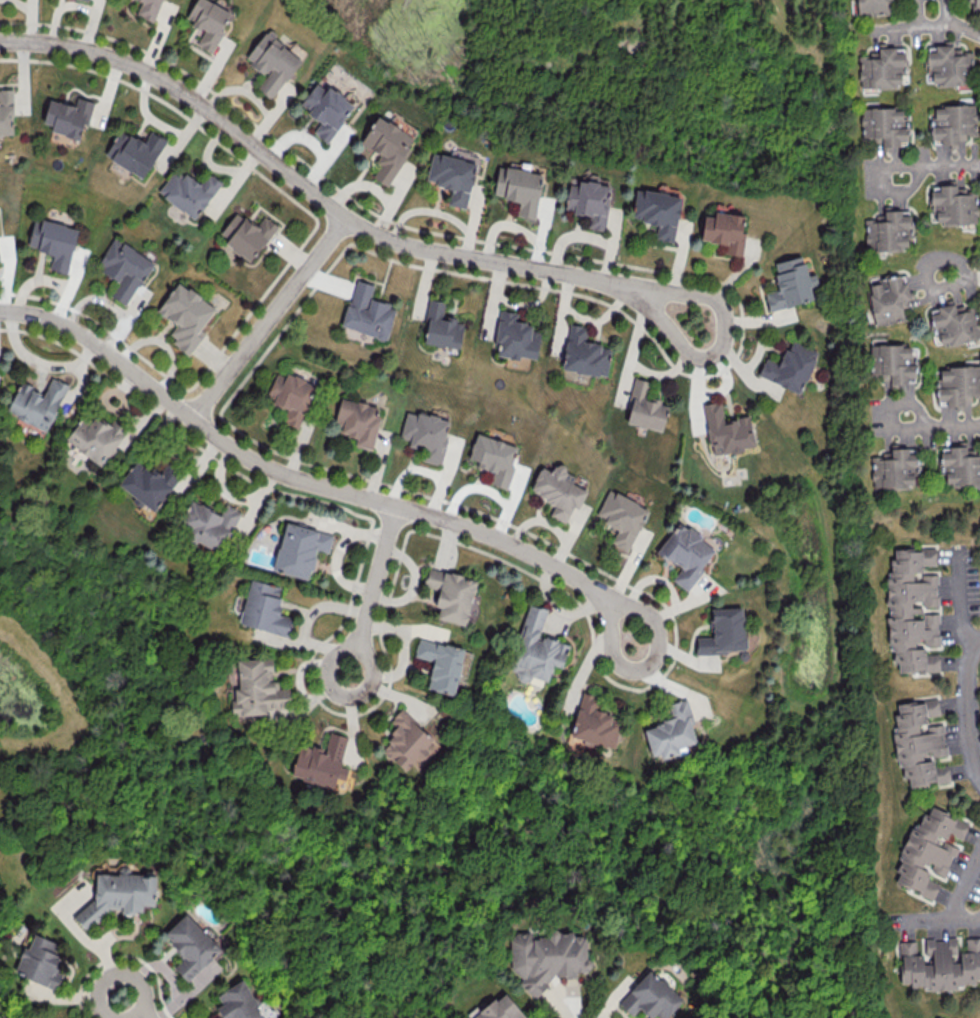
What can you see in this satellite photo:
building: (86, 0)
building: (977, 4)
building: (872, 7)
building: (148, 9)
road: (948, 12)
building: (208, 22)
road: (923, 24)
road: (964, 28)
building: (272, 63)
building: (948, 65)
building: (881, 67)
building: (326, 109)
building: (6, 112)
building: (68, 116)
building: (953, 122)
building: (884, 126)
building: (387, 147)
building: (135, 151)
road: (940, 168)
building: (452, 176)
building: (519, 188)
building: (188, 191)
building: (589, 201)
road: (331, 205)
building: (953, 205)
building: (657, 211)
building: (724, 231)
building: (887, 231)
building: (247, 235)
building: (53, 241)
building: (124, 268)
road: (960, 271)
road: (728, 281)
building: (790, 283)
building: (888, 299)
building: (367, 311)
building: (185, 315)
road: (270, 318)
building: (441, 326)
building: (515, 336)
building: (584, 353)
building: (893, 363)
building: (789, 366)
road: (696, 373)
building: (957, 386)
building: (291, 396)
building: (37, 402)
building: (645, 407)
building: (358, 421)
road: (941, 426)
building: (727, 430)
building: (425, 434)
building: (95, 438)
building: (494, 457)
building: (959, 464)
road: (266, 468)
building: (894, 469)
building: (149, 483)
building: (558, 490)
building: (621, 517)
building: (208, 524)
building: (299, 549)
building: (685, 553)
road: (374, 588)
building: (451, 594)
road: (605, 596)
building: (264, 608)
road: (959, 609)
building: (912, 610)
building: (724, 631)
building: (536, 648)
building: (441, 663)
building: (255, 688)
road: (971, 704)
building: (594, 723)
building: (671, 730)
building: (406, 740)
building: (919, 742)
building: (321, 761)
building: (928, 850)
road: (965, 886)
building: (117, 896)
road: (936, 921)
building: (190, 945)
building: (547, 957)
building: (39, 961)
building: (940, 963)
building: (650, 997)
building: (238, 1002)
road: (131, 1007)
building: (500, 1009)

